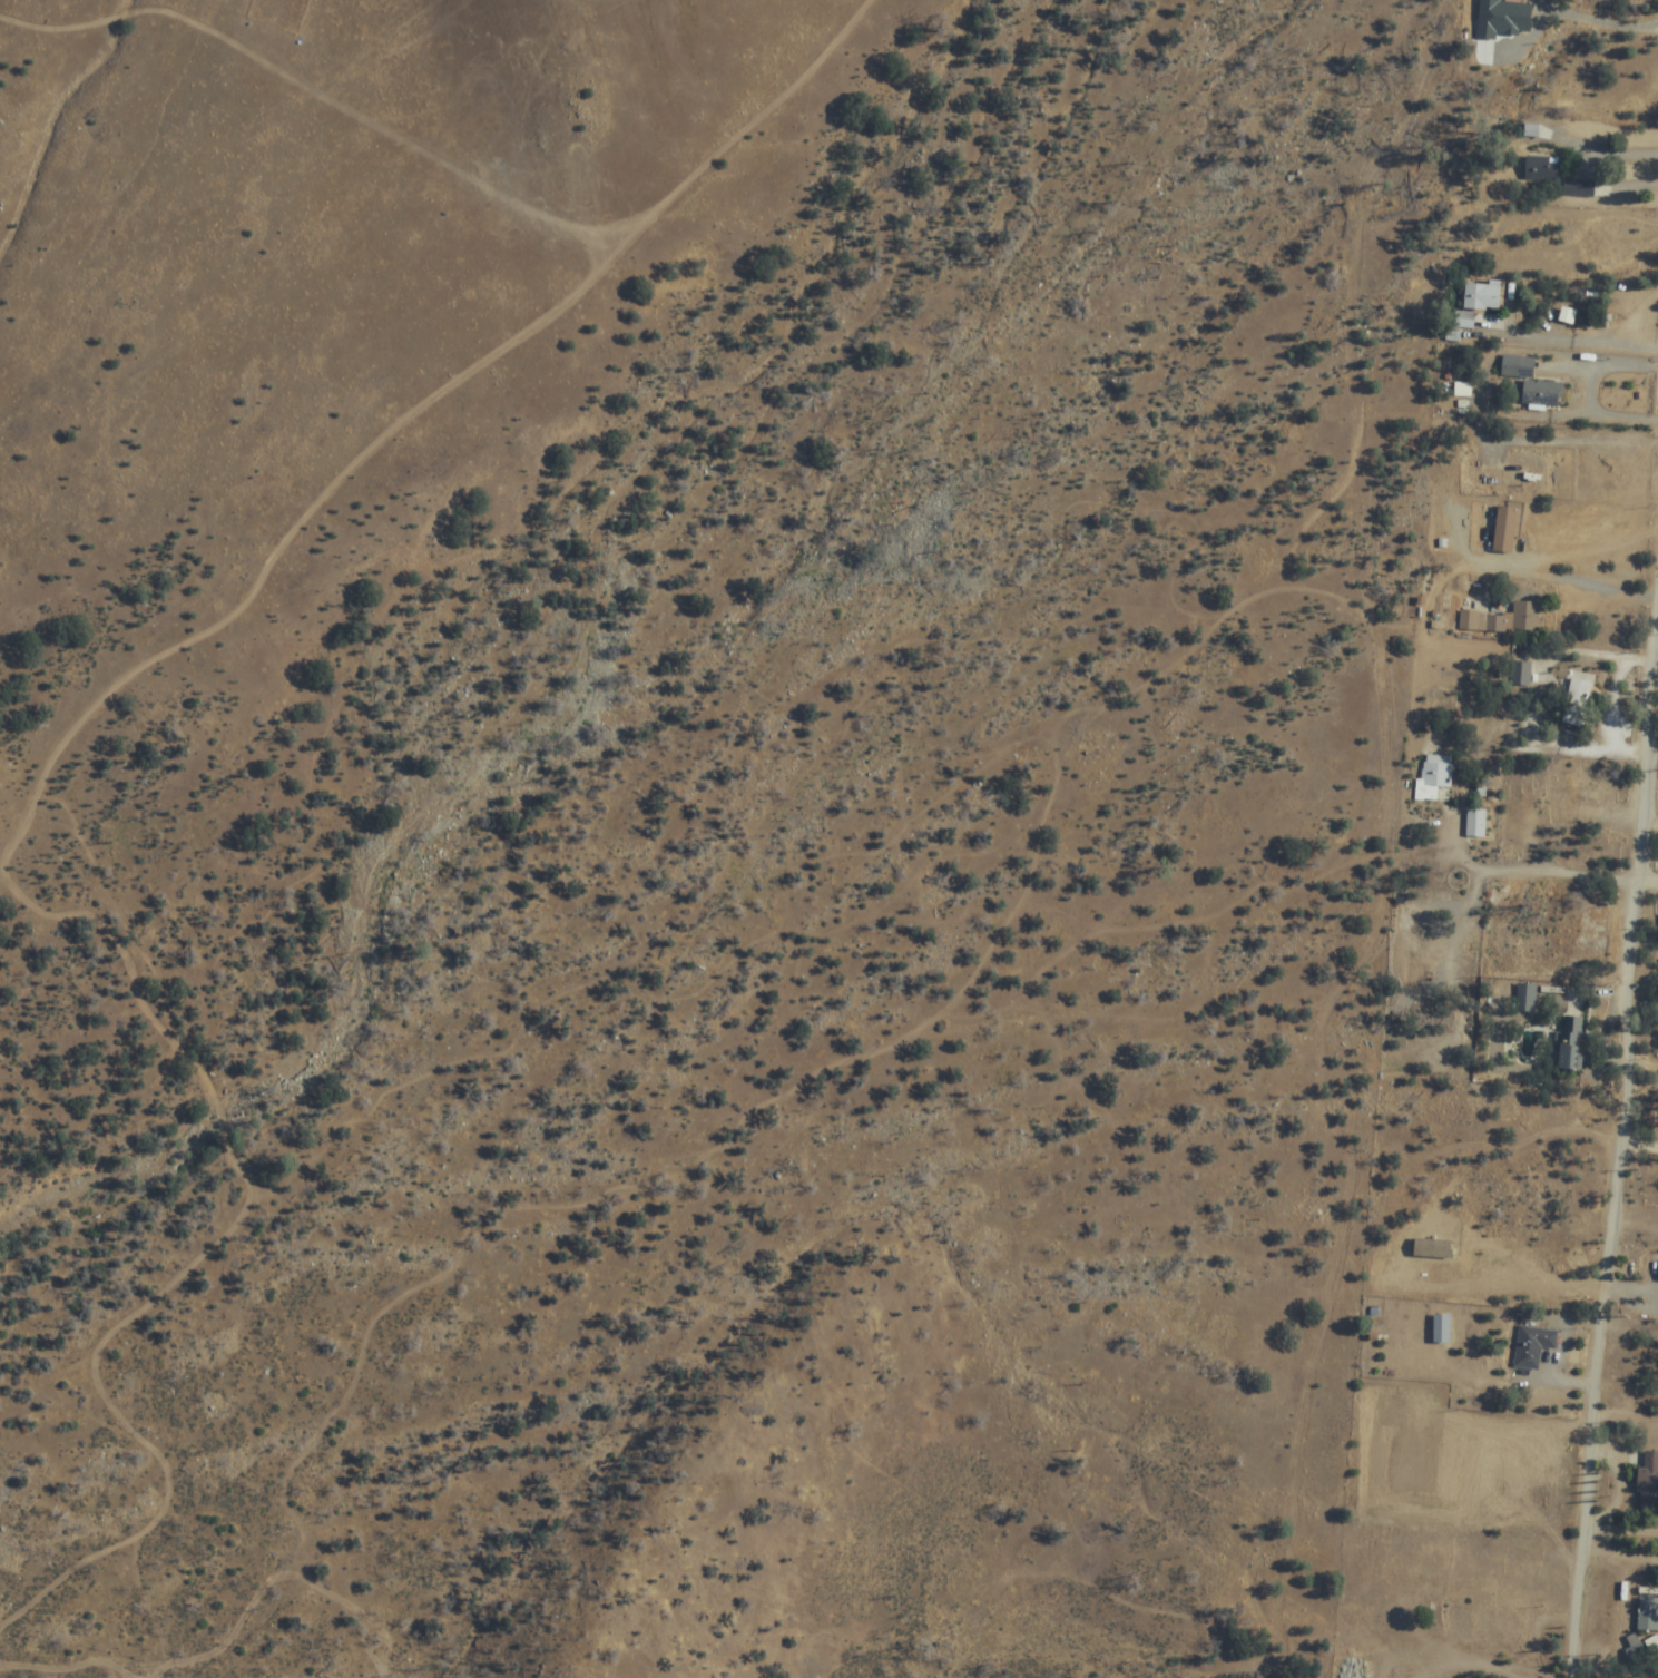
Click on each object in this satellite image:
building: (1489, 20)
building: (1541, 169)
building: (1578, 189)
building: (1481, 296)
building: (1517, 367)
building: (1542, 394)
building: (1522, 478)
building: (1490, 479)
building: (1450, 526)
building: (1525, 617)
building: (1482, 622)
building: (1521, 673)
building: (1576, 698)
building: (1435, 777)
building: (1572, 794)
building: (1475, 823)
road: (1520, 877)
road: (1650, 894)
building: (1558, 903)
building: (1530, 944)
building: (1407, 958)
building: (1525, 998)
building: (1570, 1044)
road: (1623, 1155)
building: (1652, 1295)
building: (1532, 1345)
building: (1392, 1445)
building: (1648, 1483)
building: (1648, 1615)
building: (1465, 1618)
building: (1495, 1626)
building: (1635, 1647)
building: (1344, 1672)

